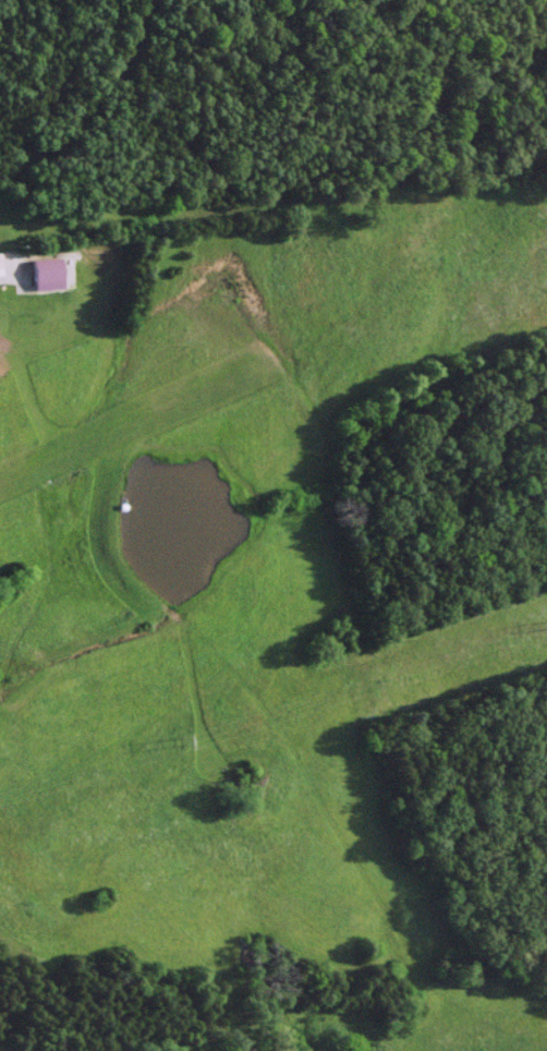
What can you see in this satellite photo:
building: (0, 265)
building: (48, 275)
power tower: (174, 732)

